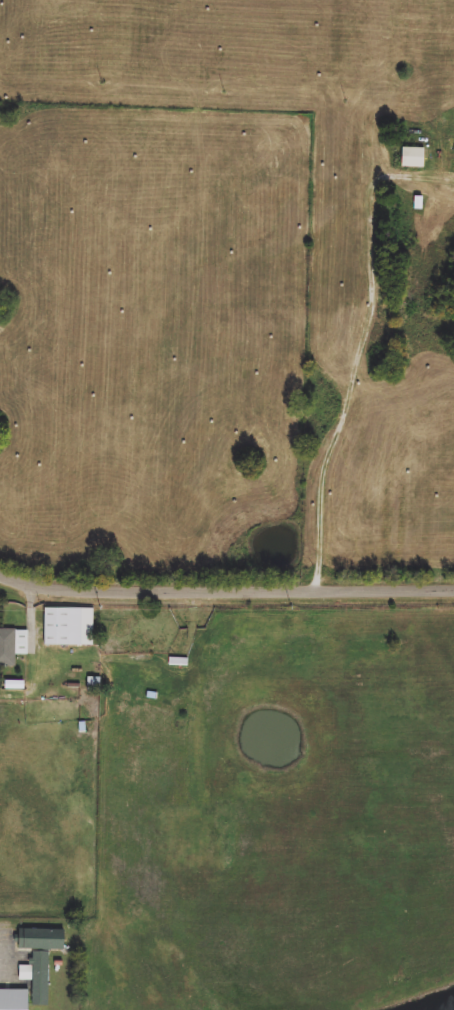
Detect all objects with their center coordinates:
building: (414, 158)
road: (354, 384)
road: (226, 588)
building: (69, 627)
building: (12, 646)
building: (41, 958)
building: (14, 1000)

